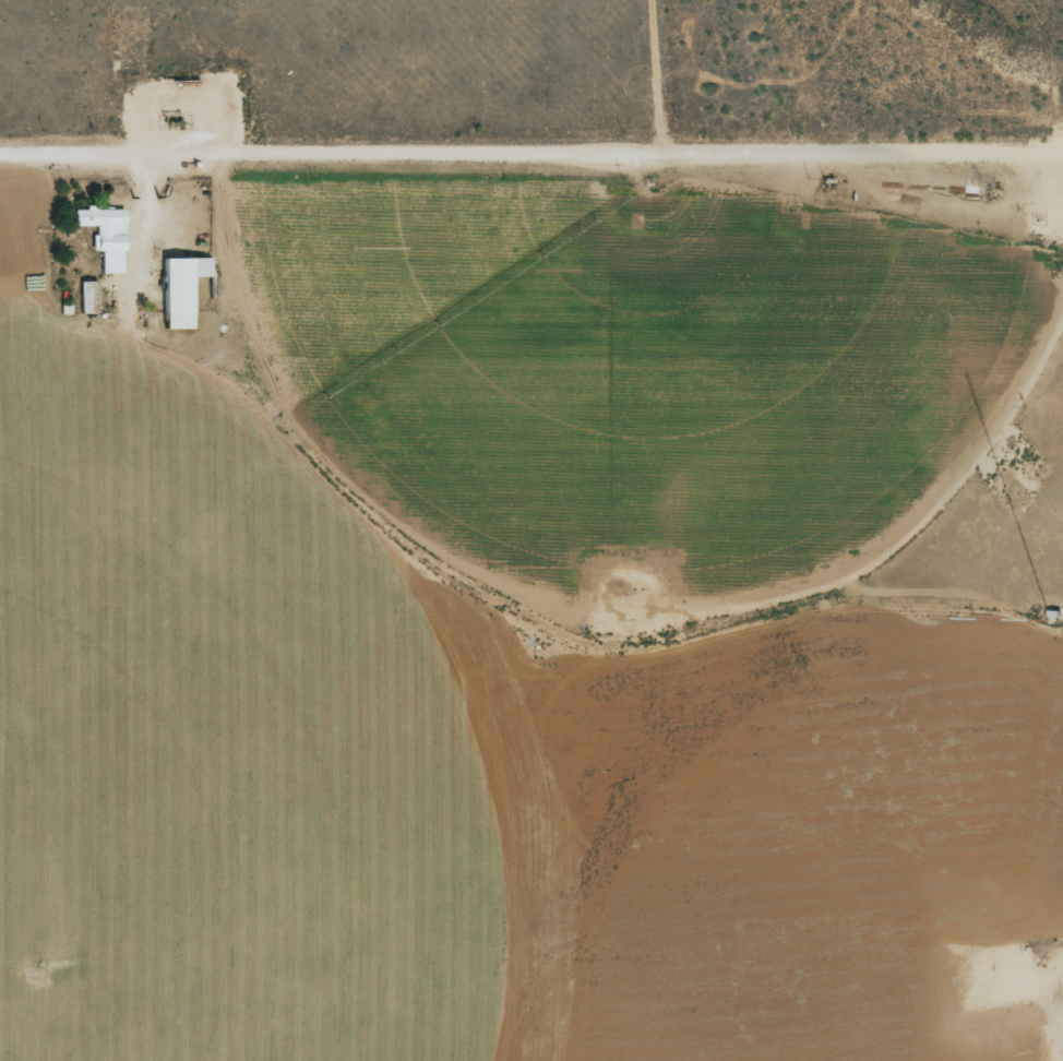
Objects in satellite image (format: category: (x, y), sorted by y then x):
road: (530, 153)
building: (104, 235)
building: (179, 288)
road: (1049, 989)

